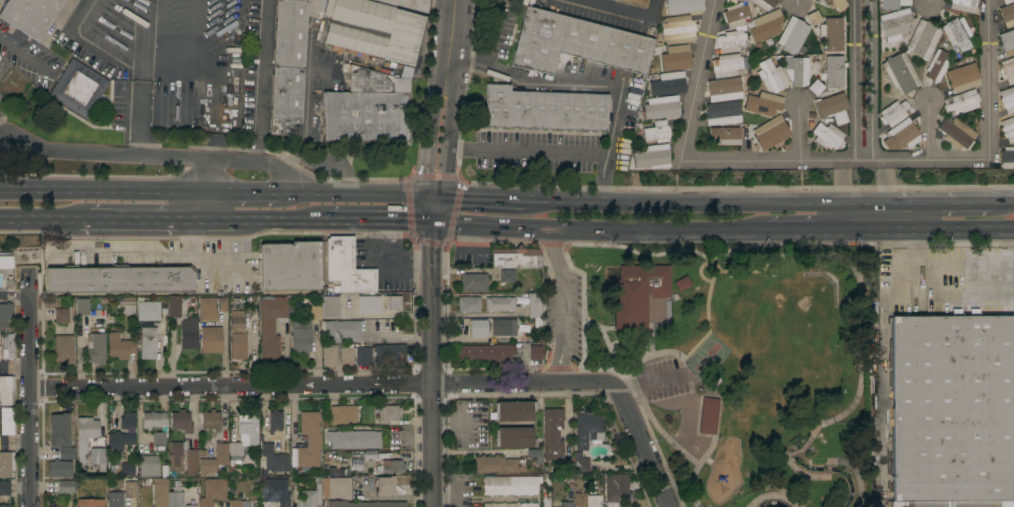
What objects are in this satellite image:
building: (741, 0)
building: (732, 1)
road: (928, 1)
building: (1008, 1)
building: (635, 2)
building: (765, 3)
building: (837, 4)
building: (892, 4)
road: (800, 5)
building: (963, 5)
building: (682, 6)
road: (621, 10)
building: (1007, 14)
building: (30, 15)
building: (735, 15)
building: (814, 20)
building: (895, 24)
building: (766, 26)
building: (374, 29)
building: (677, 29)
building: (957, 33)
building: (833, 34)
building: (792, 36)
road: (493, 39)
building: (923, 39)
road: (451, 40)
building: (731, 41)
building: (1007, 42)
building: (576, 43)
road: (91, 47)
road: (23, 56)
building: (671, 60)
building: (726, 65)
building: (936, 65)
road: (208, 66)
building: (288, 67)
building: (1008, 69)
building: (796, 70)
building: (833, 72)
building: (899, 74)
building: (771, 76)
road: (991, 78)
road: (261, 79)
road: (592, 80)
road: (697, 80)
road: (852, 80)
road: (872, 80)
building: (960, 80)
building: (667, 83)
building: (815, 87)
building: (78, 88)
building: (724, 89)
building: (1007, 99)
building: (962, 102)
building: (762, 103)
building: (660, 107)
building: (832, 107)
building: (367, 108)
building: (543, 109)
building: (722, 113)
building: (893, 113)
road: (141, 118)
building: (1008, 129)
building: (769, 130)
road: (928, 130)
road: (801, 131)
building: (657, 132)
building: (956, 133)
building: (903, 134)
road: (3, 135)
building: (725, 135)
building: (827, 136)
road: (430, 138)
road: (450, 141)
road: (213, 146)
road: (528, 151)
road: (160, 156)
building: (652, 157)
building: (1007, 157)
road: (835, 160)
road: (840, 183)
road: (887, 183)
road: (100, 190)
road: (239, 194)
road: (356, 198)
traffic signals: (435, 200)
road: (479, 201)
road: (576, 203)
road: (1002, 205)
road: (197, 206)
road: (734, 206)
road: (975, 206)
road: (863, 207)
road: (914, 207)
road: (950, 207)
road: (434, 211)
road: (39, 219)
road: (136, 219)
road: (215, 219)
road: (840, 219)
road: (887, 219)
road: (278, 220)
road: (377, 221)
traffic signals: (434, 223)
road: (598, 231)
road: (802, 231)
road: (927, 231)
road: (432, 242)
road: (144, 255)
building: (6, 257)
building: (515, 258)
road: (387, 263)
building: (289, 266)
building: (345, 268)
building: (506, 275)
building: (118, 279)
building: (473, 282)
building: (682, 283)
building: (637, 293)
road: (14, 295)
road: (956, 296)
building: (393, 303)
building: (369, 304)
building: (468, 304)
building: (499, 304)
building: (533, 305)
building: (82, 306)
building: (125, 306)
building: (174, 306)
road: (557, 306)
building: (211, 307)
building: (330, 307)
building: (4, 313)
building: (147, 313)
building: (61, 316)
building: (237, 320)
building: (271, 324)
building: (478, 328)
building: (503, 328)
building: (339, 330)
building: (303, 332)
building: (188, 334)
road: (398, 338)
building: (210, 340)
building: (147, 342)
building: (238, 345)
building: (7, 346)
building: (119, 346)
building: (63, 348)
building: (96, 348)
building: (0, 352)
building: (487, 353)
building: (535, 353)
building: (389, 354)
building: (329, 355)
building: (362, 355)
building: (346, 356)
park: (724, 361)
road: (15, 367)
road: (652, 381)
road: (523, 382)
road: (434, 384)
road: (232, 385)
road: (30, 389)
building: (6, 390)
building: (514, 410)
building: (953, 411)
building: (388, 413)
building: (342, 414)
building: (708, 416)
building: (153, 419)
building: (210, 420)
building: (7, 421)
building: (180, 421)
building: (275, 421)
road: (458, 426)
building: (86, 429)
building: (587, 429)
building: (59, 430)
building: (123, 433)
building: (552, 434)
building: (244, 436)
road: (411, 436)
building: (514, 437)
building: (158, 438)
building: (355, 439)
building: (309, 441)
road: (15, 442)
road: (641, 444)
building: (367, 455)
building: (97, 457)
building: (214, 459)
building: (274, 459)
building: (175, 462)
building: (580, 463)
building: (6, 464)
building: (497, 464)
building: (149, 466)
building: (391, 466)
building: (59, 468)
building: (129, 471)
building: (510, 485)
building: (66, 486)
building: (385, 486)
building: (336, 487)
building: (4, 488)
building: (616, 489)
building: (130, 490)
building: (160, 492)
building: (212, 492)
building: (274, 493)
building: (310, 496)
building: (175, 497)
road: (456, 497)
building: (115, 499)
building: (587, 500)
building: (641, 502)
building: (90, 503)
building: (238, 503)
building: (871, 503)
building: (364, 504)
building: (510, 504)
building: (566, 504)
building: (5, 505)
building: (190, 506)

